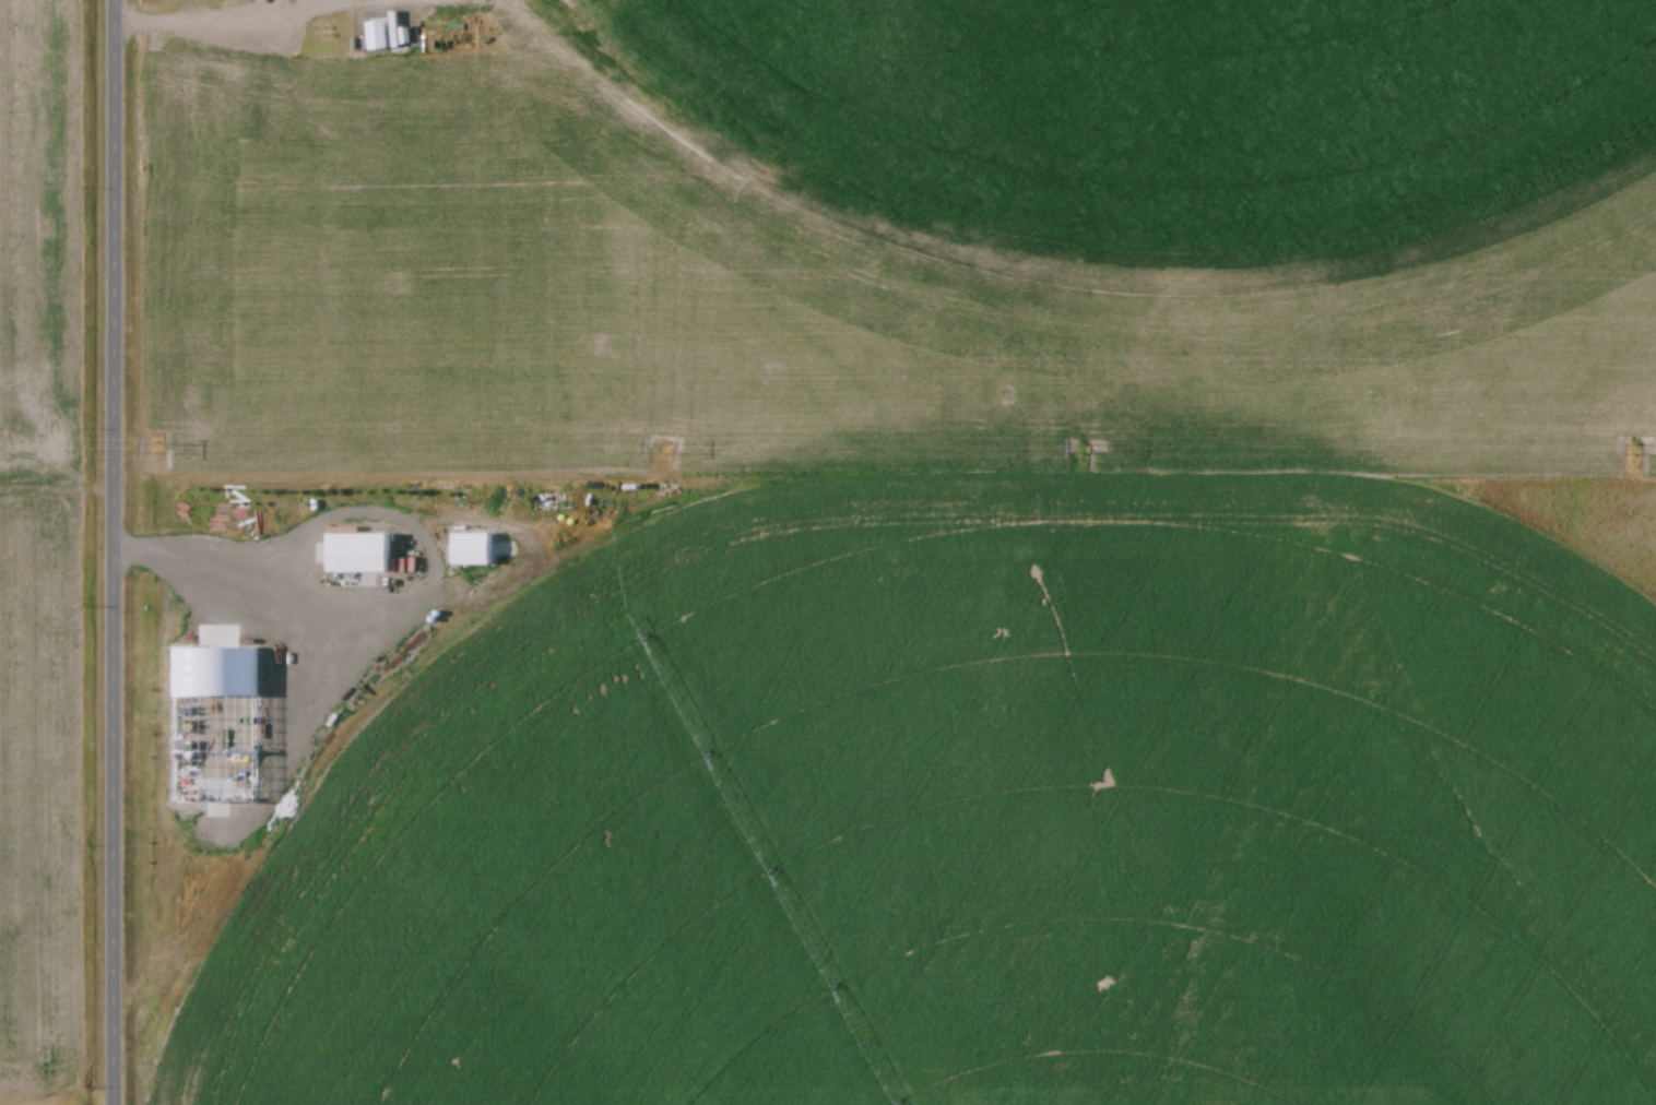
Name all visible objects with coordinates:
road: (158, 21)
power tower: (156, 447)
power tower: (659, 447)
power tower: (1639, 449)
power tower: (1083, 453)
road: (117, 552)
building: (365, 554)

